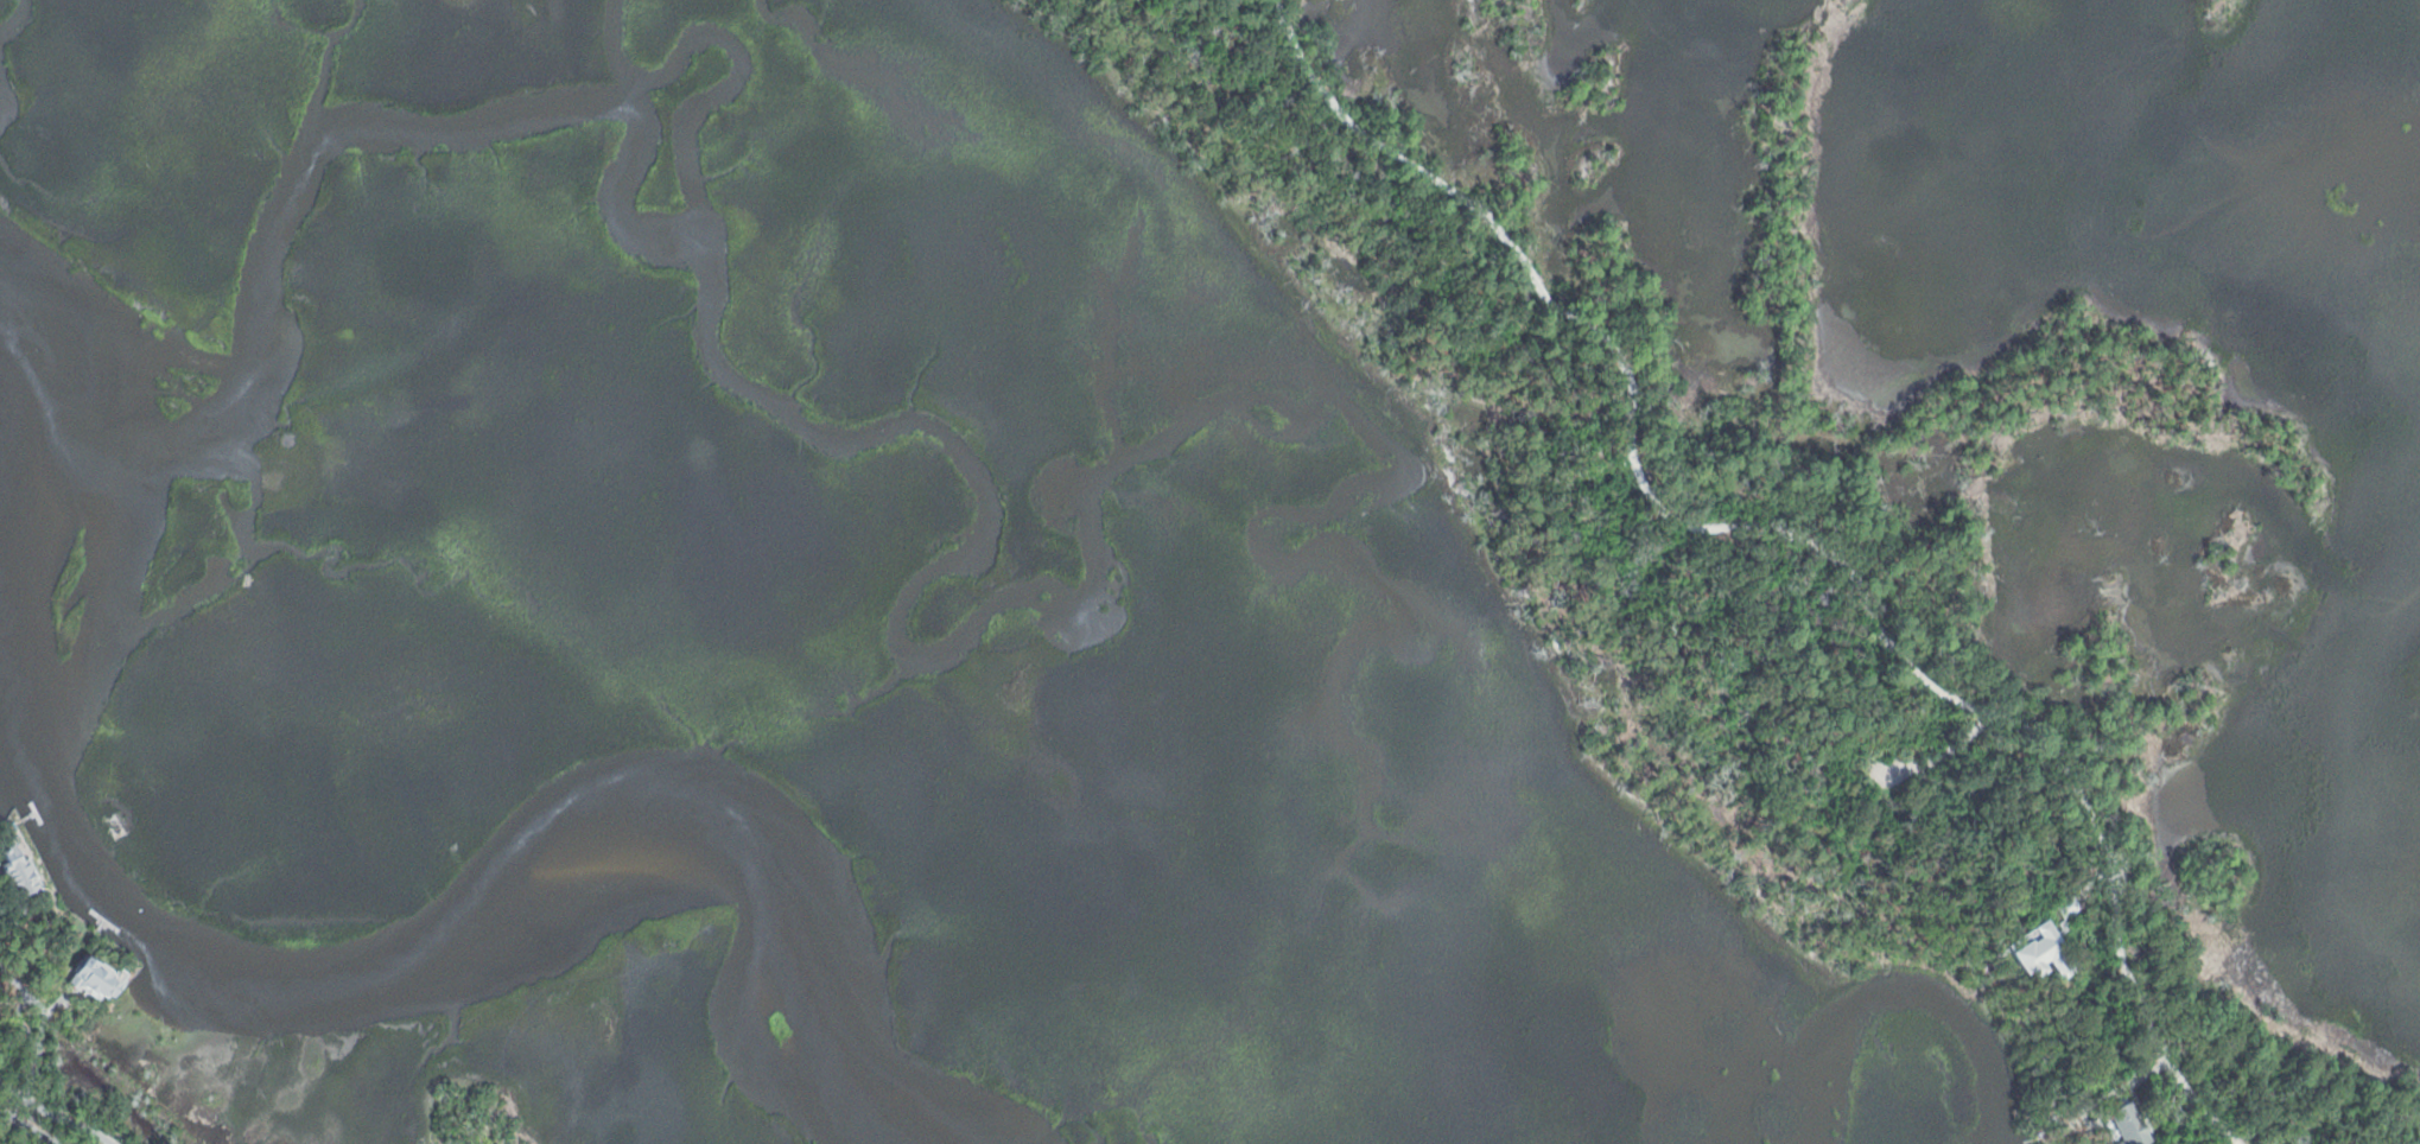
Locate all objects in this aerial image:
road: (1785, 525)
road: (1937, 757)
building: (117, 825)
building: (21, 871)
building: (2058, 908)
building: (2027, 955)
building: (99, 975)
road: (43, 1037)
road: (471, 1097)
road: (56, 1110)
road: (11, 1112)
road: (28, 1125)
building: (2117, 1126)

